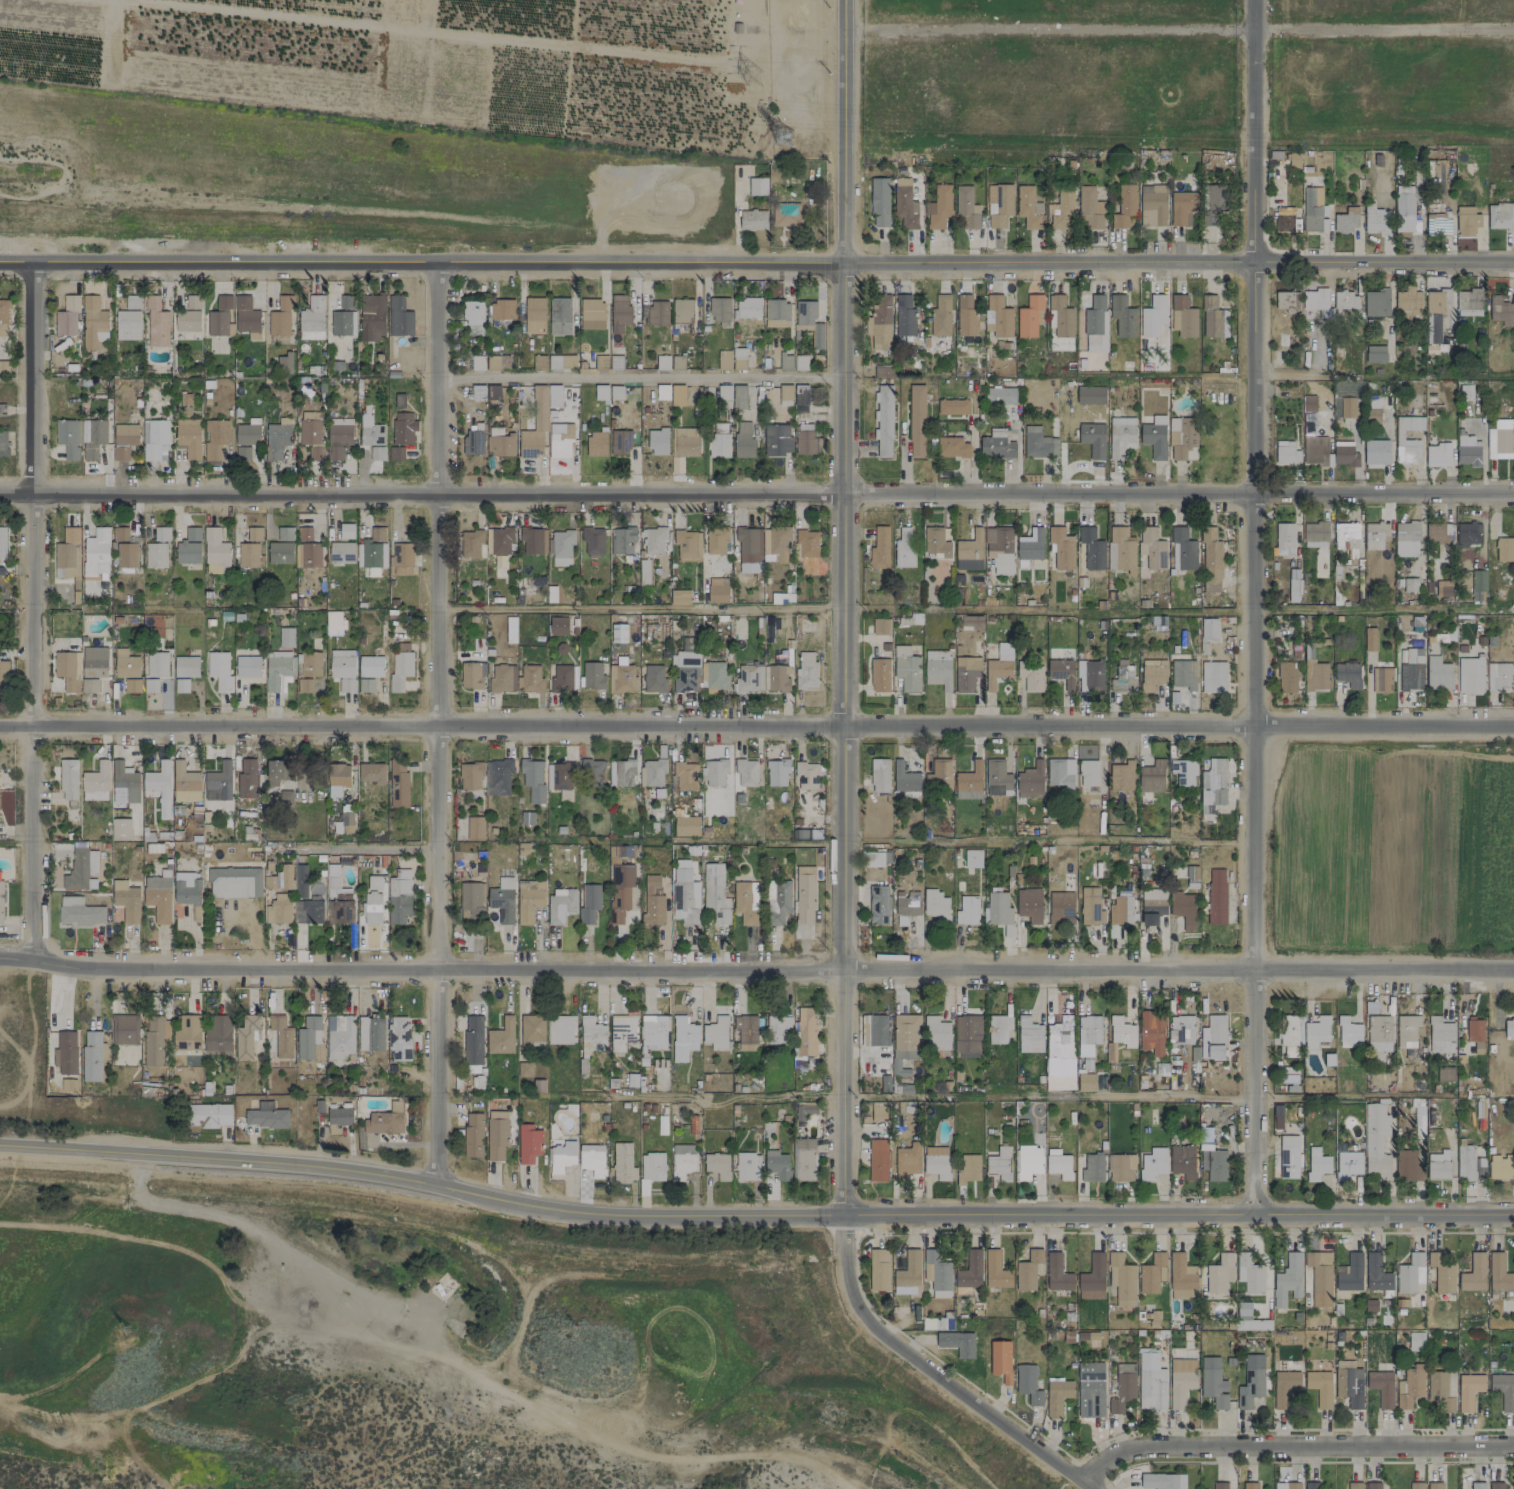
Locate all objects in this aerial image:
road: (842, 15)
road: (1178, 30)
road: (780, 32)
power tower: (753, 77)
power tower: (782, 138)
building: (1378, 160)
building: (757, 186)
building: (879, 202)
building: (1213, 202)
building: (904, 204)
building: (999, 204)
building: (1153, 205)
building: (1124, 206)
building: (938, 207)
building: (966, 207)
building: (1026, 207)
building: (1182, 207)
building: (1089, 208)
building: (1404, 208)
building: (1061, 209)
building: (1313, 210)
building: (787, 215)
building: (1500, 216)
building: (1375, 219)
building: (753, 220)
building: (1286, 220)
building: (1346, 220)
building: (1467, 221)
building: (1438, 224)
road: (756, 270)
building: (1345, 300)
building: (1408, 300)
building: (1287, 301)
building: (1316, 301)
building: (347, 302)
building: (1468, 302)
building: (1376, 303)
building: (747, 308)
building: (501, 309)
building: (682, 310)
building: (719, 311)
building: (1501, 311)
building: (473, 312)
building: (658, 312)
building: (619, 313)
building: (776, 313)
building: (1434, 313)
building: (591, 314)
building: (4, 315)
building: (312, 315)
building: (534, 315)
building: (559, 316)
building: (905, 316)
building: (940, 316)
building: (966, 316)
building: (998, 316)
building: (1030, 316)
building: (1061, 316)
building: (1122, 316)
building: (1153, 316)
building: (1183, 316)
building: (67, 317)
building: (220, 317)
building: (247, 317)
building: (281, 317)
building: (372, 317)
building: (399, 317)
building: (1213, 317)
building: (129, 319)
building: (188, 320)
building: (809, 320)
building: (93, 322)
building: (157, 323)
building: (342, 323)
building: (880, 323)
building: (1096, 324)
building: (473, 329)
building: (1375, 354)
building: (739, 358)
building: (724, 360)
building: (477, 362)
building: (497, 362)
building: (539, 362)
building: (561, 362)
building: (662, 362)
building: (793, 362)
building: (284, 363)
building: (882, 370)
road: (638, 379)
building: (615, 392)
building: (662, 392)
building: (785, 392)
building: (601, 393)
building: (1466, 393)
building: (677, 395)
building: (723, 395)
building: (800, 395)
building: (1001, 395)
building: (1090, 395)
building: (739, 396)
building: (399, 401)
building: (1308, 403)
building: (953, 406)
building: (1347, 407)
building: (2, 410)
building: (537, 421)
building: (883, 421)
building: (916, 421)
building: (1410, 423)
building: (403, 427)
building: (371, 431)
building: (309, 432)
building: (247, 434)
building: (67, 437)
building: (92, 437)
building: (1120, 437)
building: (1154, 437)
building: (188, 438)
building: (1182, 438)
building: (214, 439)
building: (339, 439)
building: (776, 439)
building: (805, 439)
building: (1093, 439)
building: (1500, 439)
building: (124, 440)
building: (155, 440)
building: (277, 440)
building: (560, 440)
building: (719, 440)
building: (743, 440)
building: (658, 441)
building: (473, 442)
building: (499, 442)
building: (620, 442)
building: (685, 442)
building: (3, 443)
building: (1038, 443)
building: (596, 444)
building: (996, 445)
building: (952, 447)
building: (1314, 450)
building: (1407, 451)
building: (1468, 451)
building: (242, 453)
building: (377, 453)
building: (395, 453)
building: (1286, 453)
building: (1376, 453)
building: (1344, 454)
building: (1437, 455)
road: (756, 495)
building: (346, 531)
building: (1315, 531)
building: (254, 533)
building: (1438, 533)
building: (120, 534)
building: (161, 534)
building: (304, 534)
building: (1468, 534)
building: (1346, 535)
building: (1375, 535)
building: (1284, 537)
building: (1407, 539)
building: (533, 540)
building: (622, 540)
building: (653, 540)
building: (716, 540)
building: (501, 541)
building: (592, 541)
building: (471, 542)
building: (936, 542)
building: (2, 543)
building: (807, 543)
building: (775, 544)
building: (1030, 544)
building: (1313, 544)
building: (748, 545)
building: (189, 546)
building: (281, 546)
building: (688, 546)
building: (970, 546)
building: (562, 547)
building: (904, 547)
building: (1061, 547)
building: (1152, 547)
building: (879, 548)
building: (1092, 548)
building: (215, 549)
building: (1120, 549)
building: (1182, 549)
building: (1504, 549)
building: (96, 552)
building: (341, 552)
building: (126, 555)
building: (155, 555)
building: (248, 555)
building: (310, 555)
building: (372, 557)
building: (402, 558)
building: (1211, 561)
building: (1410, 585)
building: (1478, 585)
building: (1443, 588)
building: (718, 590)
building: (1294, 591)
building: (679, 597)
road: (1251, 607)
road: (975, 609)
road: (30, 616)
building: (971, 622)
building: (333, 623)
building: (558, 626)
building: (881, 626)
building: (1208, 629)
building: (510, 630)
building: (618, 633)
building: (285, 637)
building: (125, 664)
building: (156, 664)
building: (310, 664)
building: (186, 666)
building: (247, 666)
building: (370, 666)
building: (400, 666)
building: (999, 667)
building: (906, 668)
building: (937, 668)
building: (278, 669)
building: (342, 669)
building: (67, 670)
building: (806, 670)
building: (1411, 670)
building: (219, 671)
building: (685, 671)
building: (92, 672)
building: (1062, 672)
building: (966, 673)
building: (1438, 673)
building: (1152, 674)
building: (1183, 674)
building: (1347, 674)
building: (472, 675)
building: (592, 675)
building: (713, 675)
building: (880, 675)
building: (1315, 675)
building: (1470, 675)
building: (3, 676)
building: (1030, 676)
building: (1089, 676)
building: (1499, 676)
building: (1213, 677)
building: (1287, 677)
building: (499, 678)
building: (561, 678)
building: (622, 678)
building: (749, 678)
building: (778, 678)
building: (529, 679)
building: (654, 679)
building: (1123, 680)
building: (1382, 680)
building: (132, 685)
building: (150, 685)
building: (181, 685)
building: (304, 685)
building: (365, 685)
road: (437, 726)
road: (756, 727)
building: (288, 770)
building: (274, 772)
building: (621, 772)
building: (653, 772)
building: (746, 772)
building: (777, 772)
building: (939, 772)
building: (1060, 772)
building: (1184, 772)
building: (371, 773)
building: (592, 773)
building: (715, 773)
building: (1091, 773)
building: (470, 775)
building: (806, 775)
building: (879, 775)
building: (559, 776)
building: (684, 776)
building: (1122, 776)
building: (498, 777)
building: (1152, 777)
building: (247, 778)
building: (904, 778)
building: (997, 778)
building: (68, 779)
building: (532, 779)
building: (1030, 781)
building: (96, 782)
building: (185, 782)
building: (218, 782)
building: (969, 782)
building: (124, 784)
building: (398, 784)
building: (1213, 786)
building: (159, 787)
building: (285, 797)
building: (346, 822)
road: (840, 824)
building: (686, 826)
building: (475, 828)
road: (1046, 843)
road: (355, 848)
building: (618, 853)
building: (876, 858)
building: (972, 858)
building: (81, 868)
building: (332, 876)
building: (1192, 876)
building: (282, 877)
building: (301, 881)
building: (234, 882)
building: (187, 889)
building: (620, 891)
building: (715, 893)
building: (804, 895)
building: (399, 896)
building: (685, 896)
building: (1216, 896)
building: (158, 898)
building: (502, 900)
building: (529, 900)
building: (652, 900)
building: (1, 901)
building: (126, 901)
building: (372, 901)
building: (471, 901)
building: (589, 902)
building: (745, 902)
building: (778, 902)
building: (935, 903)
building: (560, 904)
building: (1029, 904)
building: (878, 905)
building: (1152, 905)
building: (1090, 906)
building: (907, 907)
building: (1060, 908)
building: (1183, 908)
building: (279, 909)
building: (340, 909)
building: (967, 910)
building: (308, 911)
building: (999, 911)
building: (79, 912)
building: (1119, 914)
road: (756, 972)
building: (1370, 1007)
building: (998, 1028)
building: (1182, 1028)
building: (1509, 1028)
building: (124, 1029)
building: (561, 1029)
building: (778, 1029)
building: (1474, 1029)
building: (532, 1030)
building: (877, 1030)
building: (1406, 1030)
building: (621, 1031)
building: (654, 1032)
building: (746, 1032)
building: (1122, 1032)
building: (1152, 1032)
building: (1316, 1032)
building: (1348, 1032)
building: (187, 1033)
building: (370, 1033)
building: (592, 1033)
building: (715, 1033)
building: (967, 1033)
building: (1378, 1033)
building: (936, 1034)
building: (1088, 1034)
building: (1291, 1034)
building: (217, 1035)
building: (1029, 1035)
building: (1440, 1035)
building: (245, 1036)
building: (281, 1036)
building: (339, 1036)
building: (805, 1036)
building: (1216, 1036)
building: (308, 1037)
building: (399, 1037)
building: (501, 1037)
building: (684, 1038)
building: (155, 1039)
building: (473, 1039)
building: (904, 1041)
building: (1477, 1048)
building: (65, 1052)
building: (1060, 1054)
building: (92, 1055)
building: (524, 1069)
building: (1289, 1074)
building: (1445, 1074)
building: (1086, 1082)
road: (1175, 1096)
building: (804, 1110)
building: (879, 1113)
building: (210, 1115)
building: (266, 1116)
building: (339, 1118)
building: (385, 1120)
building: (496, 1134)
building: (472, 1135)
building: (1375, 1142)
building: (528, 1143)
building: (562, 1156)
building: (1289, 1156)
building: (592, 1159)
building: (804, 1159)
building: (907, 1159)
building: (682, 1160)
building: (878, 1160)
building: (1028, 1161)
building: (1183, 1161)
building: (936, 1162)
building: (623, 1163)
building: (999, 1163)
building: (1153, 1163)
building: (777, 1164)
building: (1058, 1164)
building: (1214, 1164)
building: (1317, 1164)
building: (1469, 1164)
building: (717, 1165)
building: (1438, 1165)
building: (747, 1166)
building: (1348, 1166)
building: (1407, 1166)
building: (1500, 1166)
building: (1121, 1167)
building: (1092, 1168)
building: (968, 1169)
building: (650, 1170)
road: (754, 1221)
building: (879, 1269)
building: (970, 1270)
building: (995, 1270)
building: (1027, 1270)
building: (936, 1273)
building: (1057, 1273)
building: (1152, 1273)
building: (1218, 1273)
building: (1249, 1273)
building: (1351, 1273)
building: (1376, 1273)
building: (1410, 1273)
building: (1441, 1273)
building: (1474, 1273)
building: (1498, 1274)
building: (908, 1275)
building: (1320, 1276)
building: (1181, 1277)
building: (1092, 1278)
building: (1122, 1280)
building: (1287, 1280)
road: (236, 1288)
building: (1246, 1317)
building: (935, 1324)
building: (1416, 1341)
building: (957, 1343)
building: (1000, 1360)
building: (1151, 1380)
building: (1181, 1380)
building: (1213, 1382)
building: (1028, 1384)
building: (1350, 1386)
building: (1123, 1387)
building: (1284, 1387)
building: (1320, 1387)
building: (1381, 1387)
building: (1250, 1388)
building: (1410, 1388)
building: (1090, 1389)
building: (1468, 1390)
building: (1504, 1390)
building: (1441, 1392)
building: (1057, 1396)
road: (1296, 1445)
building: (1162, 1481)
building: (1219, 1485)
building: (1250, 1485)
building: (1293, 1485)
building: (1312, 1485)
building: (1354, 1485)
building: (1373, 1485)
building: (1416, 1485)
building: (1434, 1485)
building: (1477, 1485)
building: (1496, 1485)

